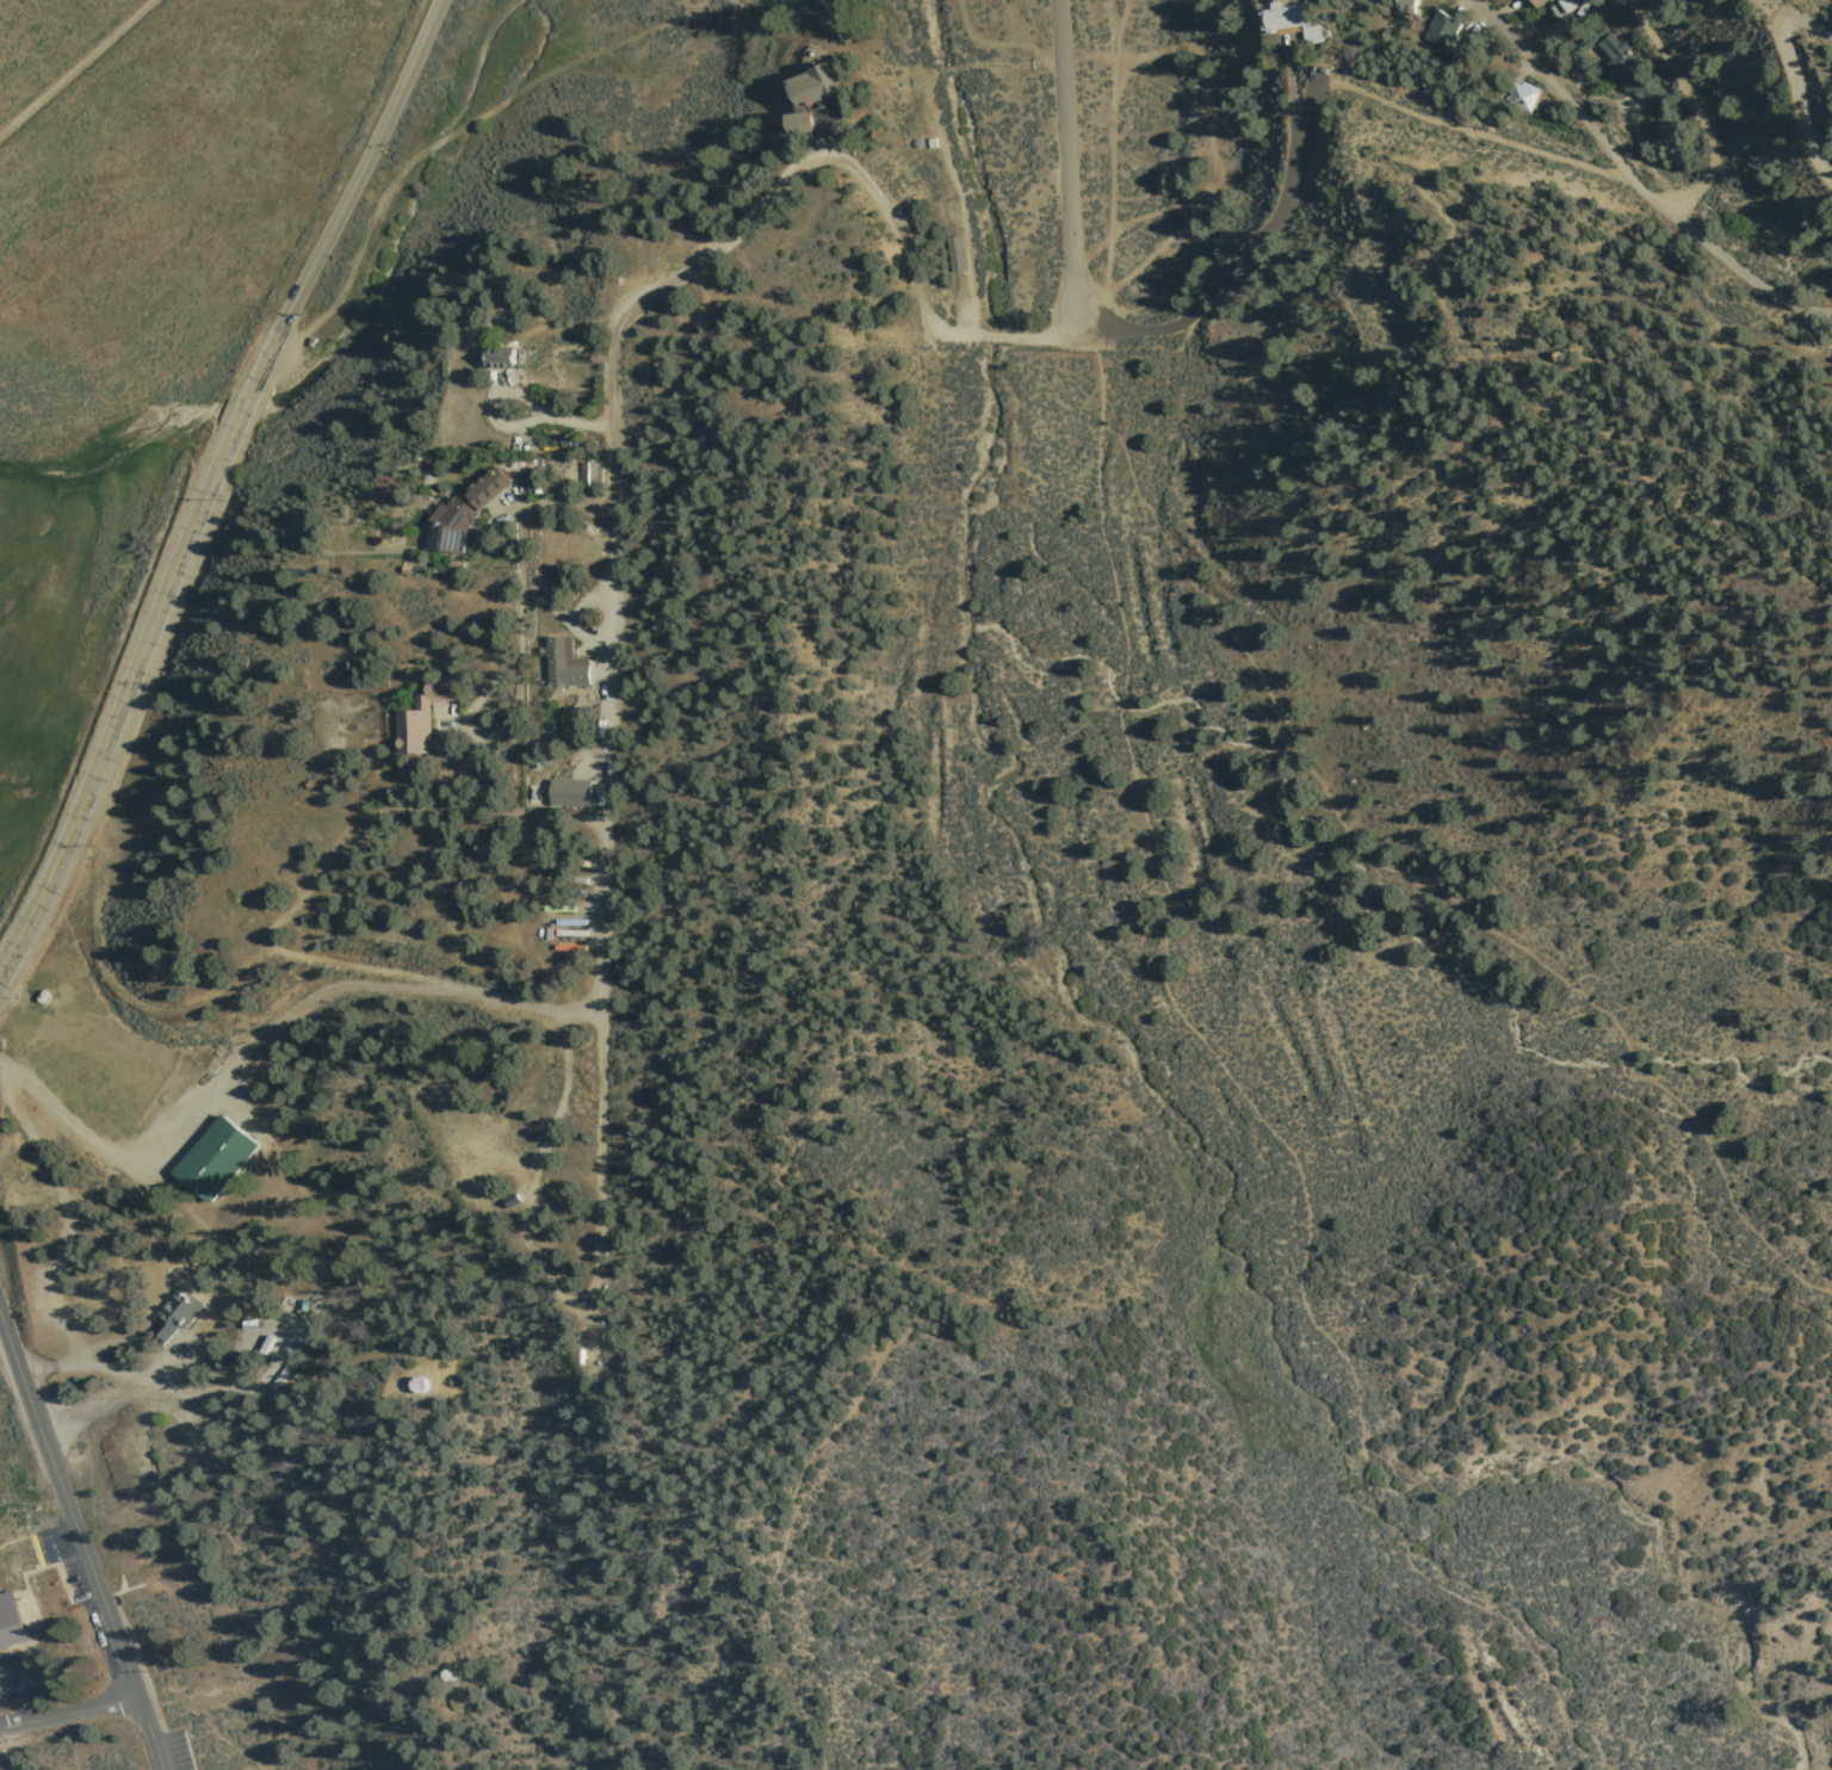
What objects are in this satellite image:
building: (1529, 2)
building: (1399, 6)
building: (1554, 6)
building: (1285, 20)
building: (1436, 30)
road: (76, 68)
building: (1623, 69)
road: (1794, 79)
road: (1548, 89)
building: (797, 94)
building: (1518, 95)
road: (1694, 109)
road: (1404, 110)
road: (1066, 157)
road: (361, 175)
road: (755, 212)
building: (491, 357)
building: (456, 510)
road: (140, 663)
building: (558, 663)
building: (413, 714)
building: (564, 792)
road: (265, 1032)
road: (602, 1064)
building: (215, 1158)
road: (533, 1176)
road: (54, 1274)
building: (177, 1313)
road: (225, 1381)
building: (190, 1441)
building: (136, 1467)
road: (82, 1537)
parking lot: (85, 1585)
building: (12, 1622)
road: (72, 1715)
road: (442, 1745)

